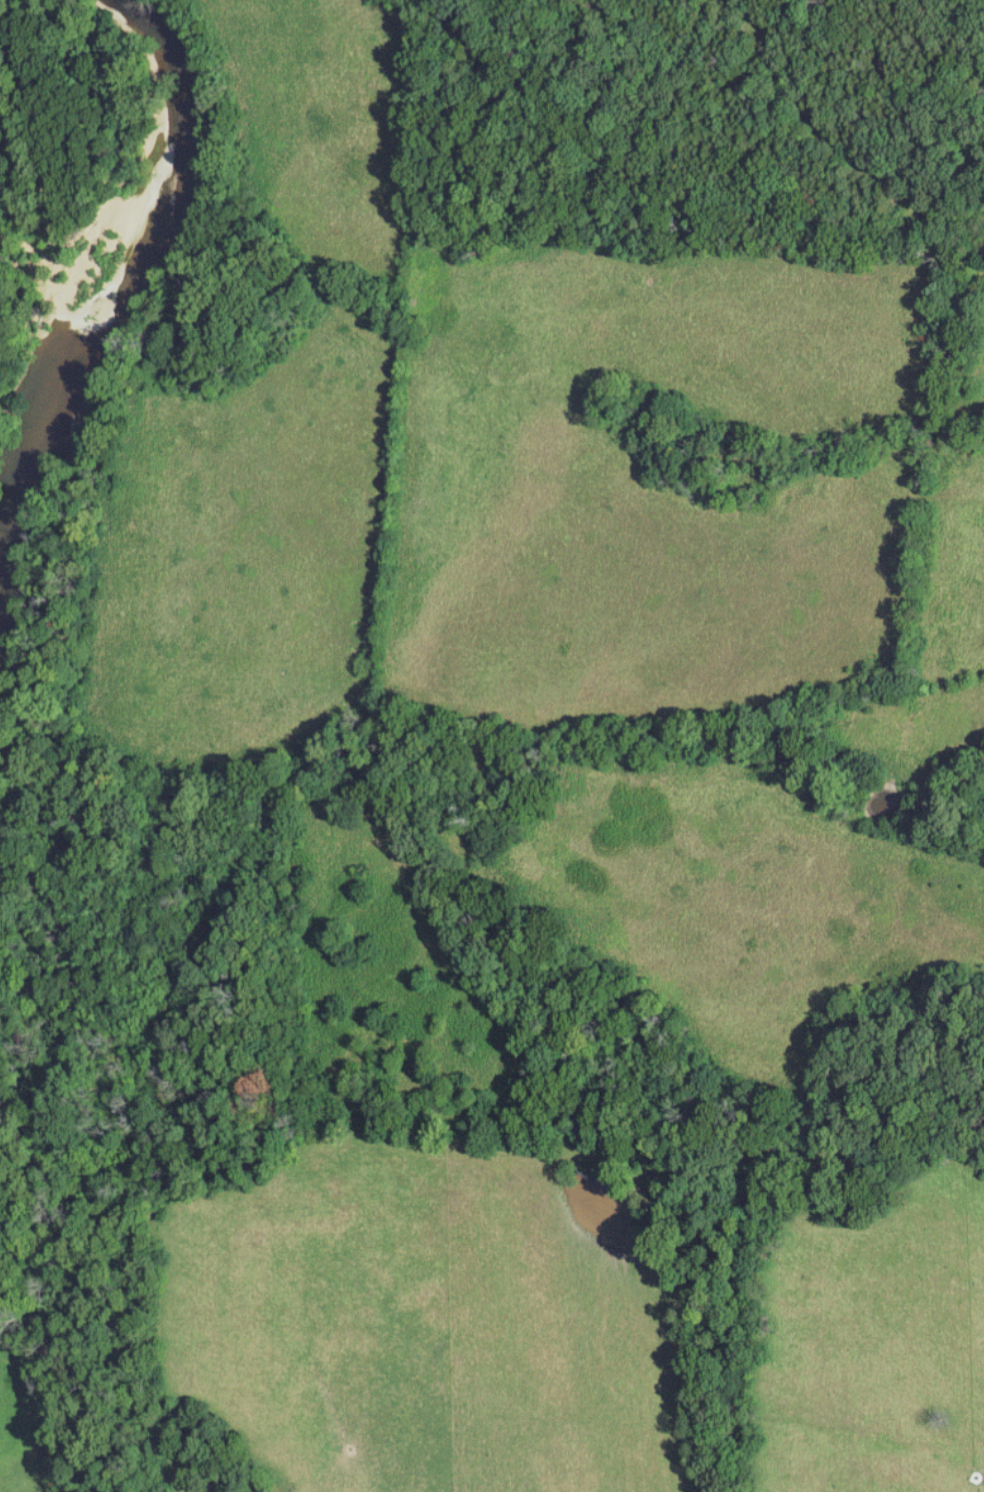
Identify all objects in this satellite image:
river: (143, 277)

